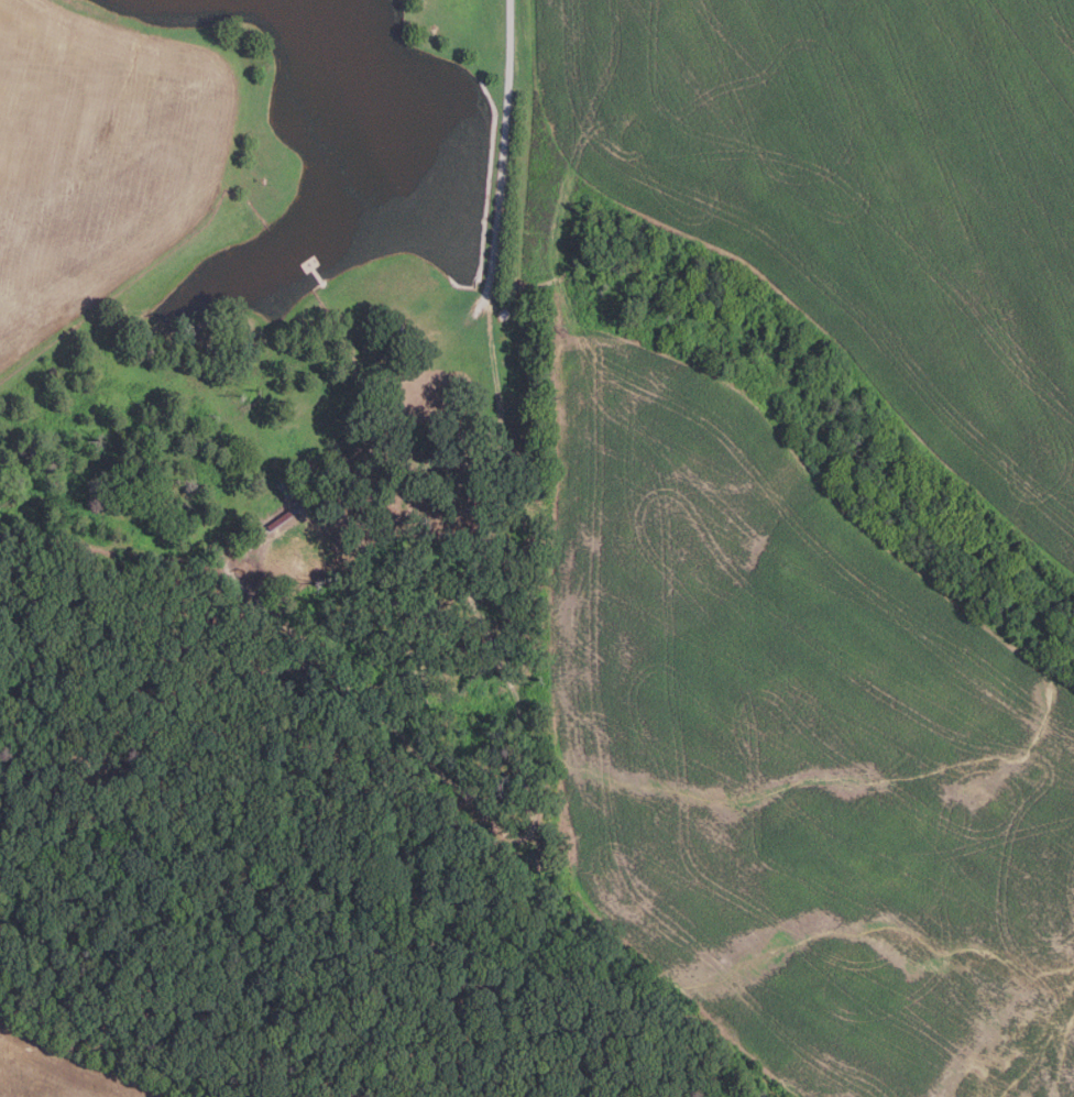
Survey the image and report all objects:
road: (503, 163)

